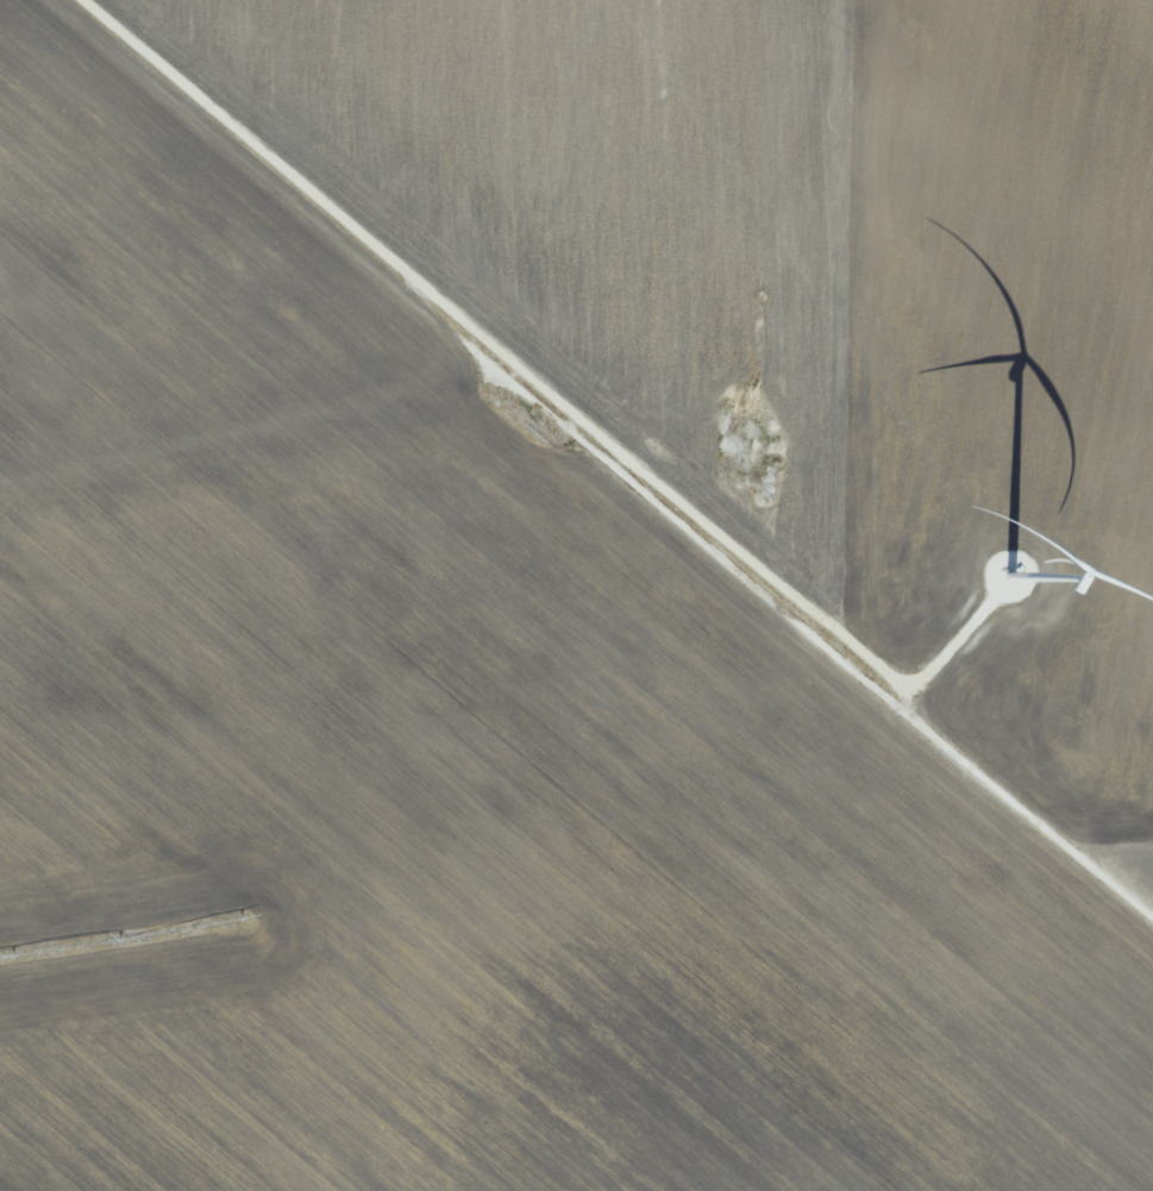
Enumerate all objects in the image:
wind turbine: (1021, 573)

